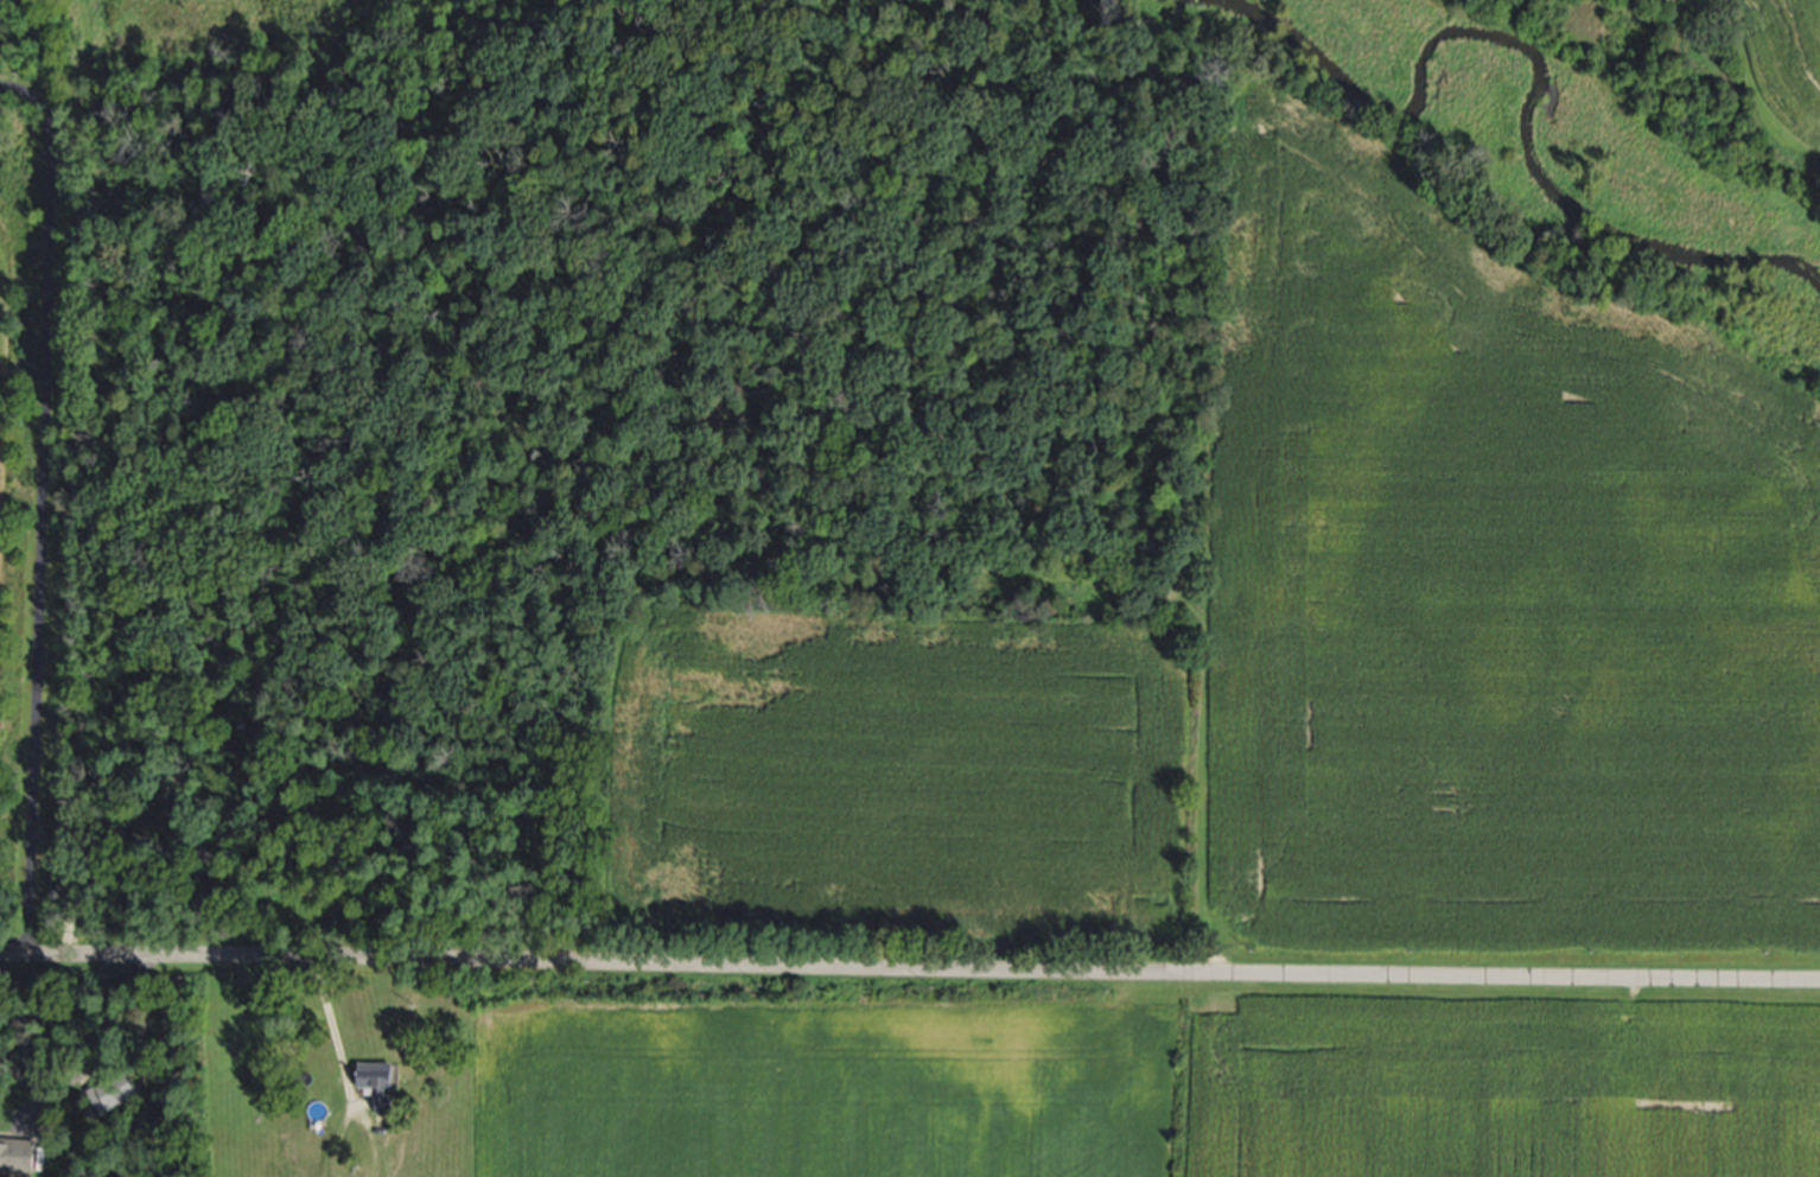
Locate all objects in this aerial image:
road: (39, 505)
road: (909, 975)
road: (335, 1033)
road: (114, 1055)
building: (383, 1084)
building: (115, 1092)
building: (19, 1156)

